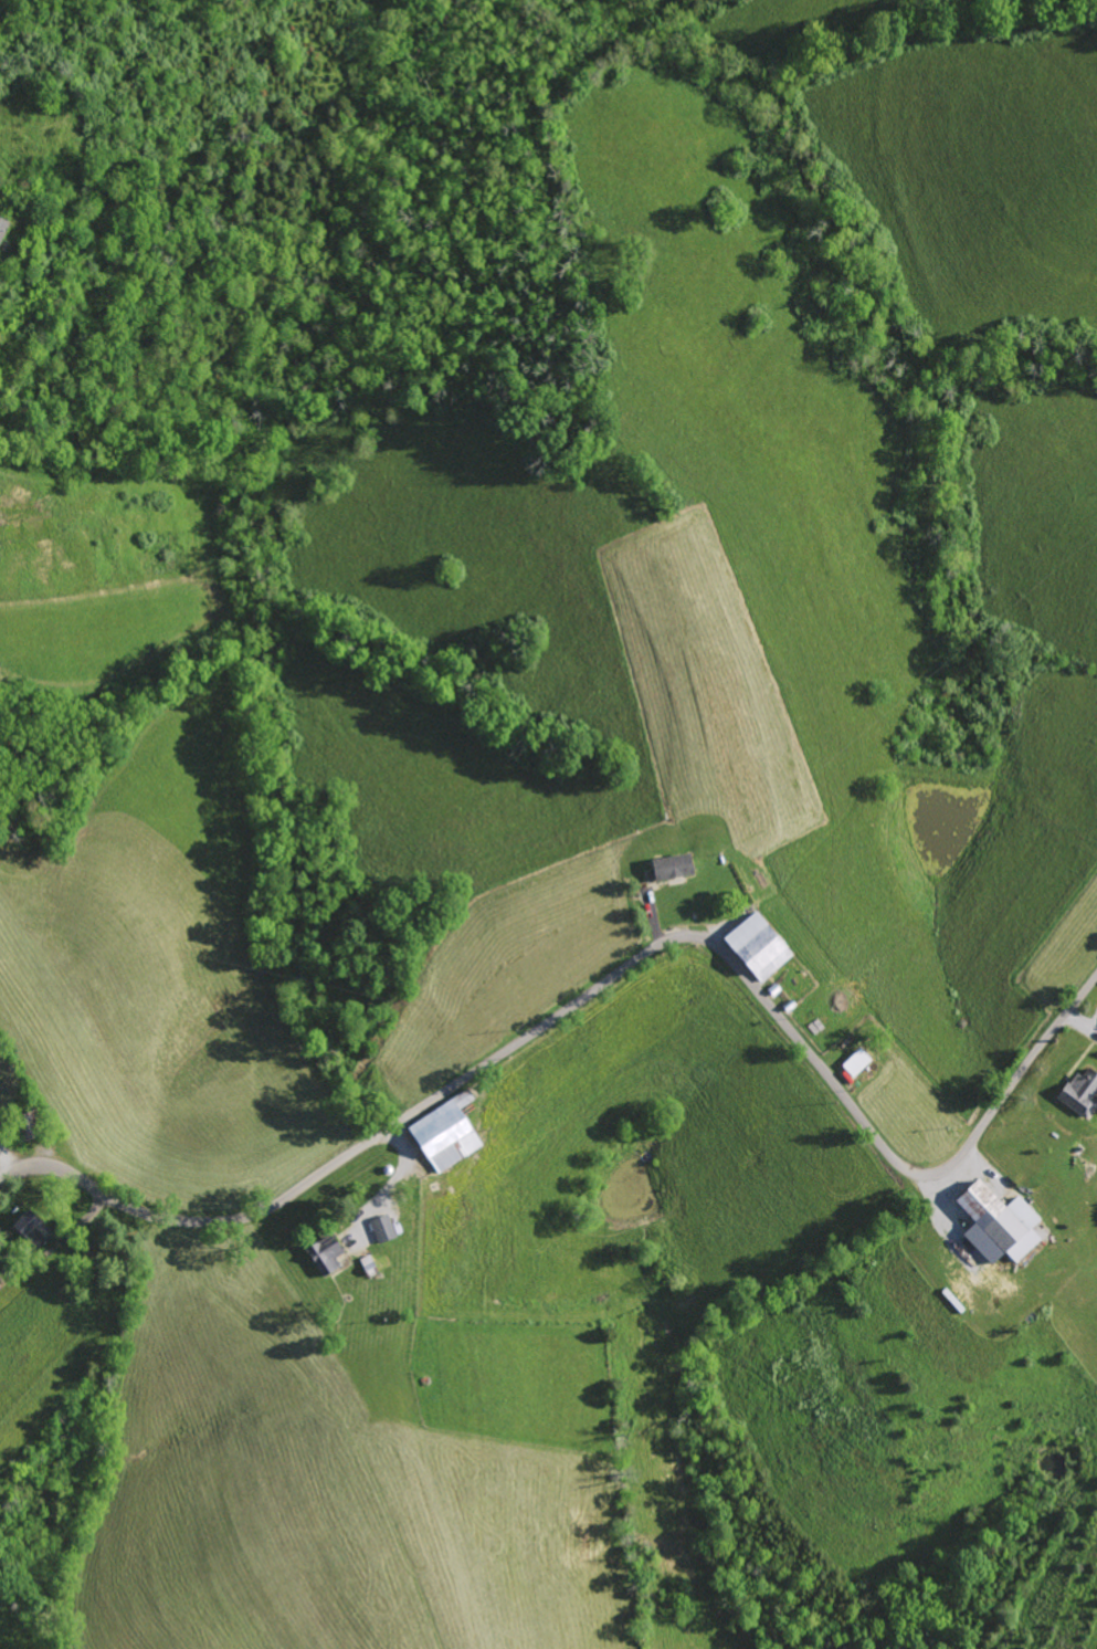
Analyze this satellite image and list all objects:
building: (1, 223)
building: (667, 866)
building: (752, 948)
road: (800, 1039)
building: (852, 1063)
building: (1077, 1092)
building: (458, 1099)
building: (440, 1137)
road: (226, 1218)
building: (993, 1225)
building: (383, 1228)
building: (25, 1229)
building: (321, 1254)

